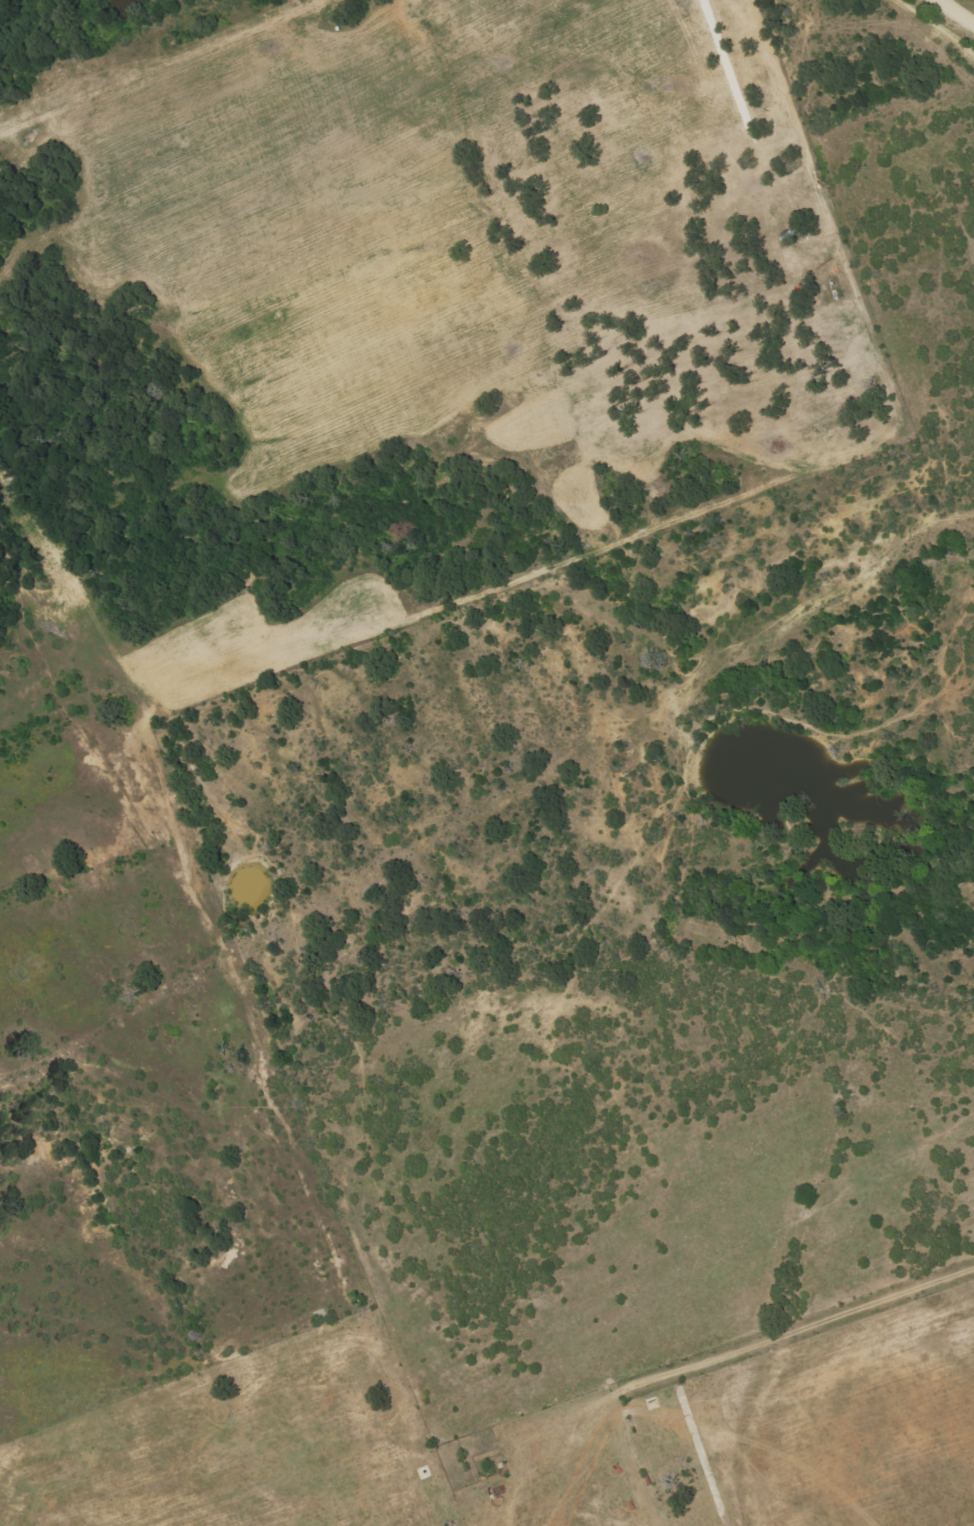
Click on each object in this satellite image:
road: (955, 11)
road: (793, 113)

